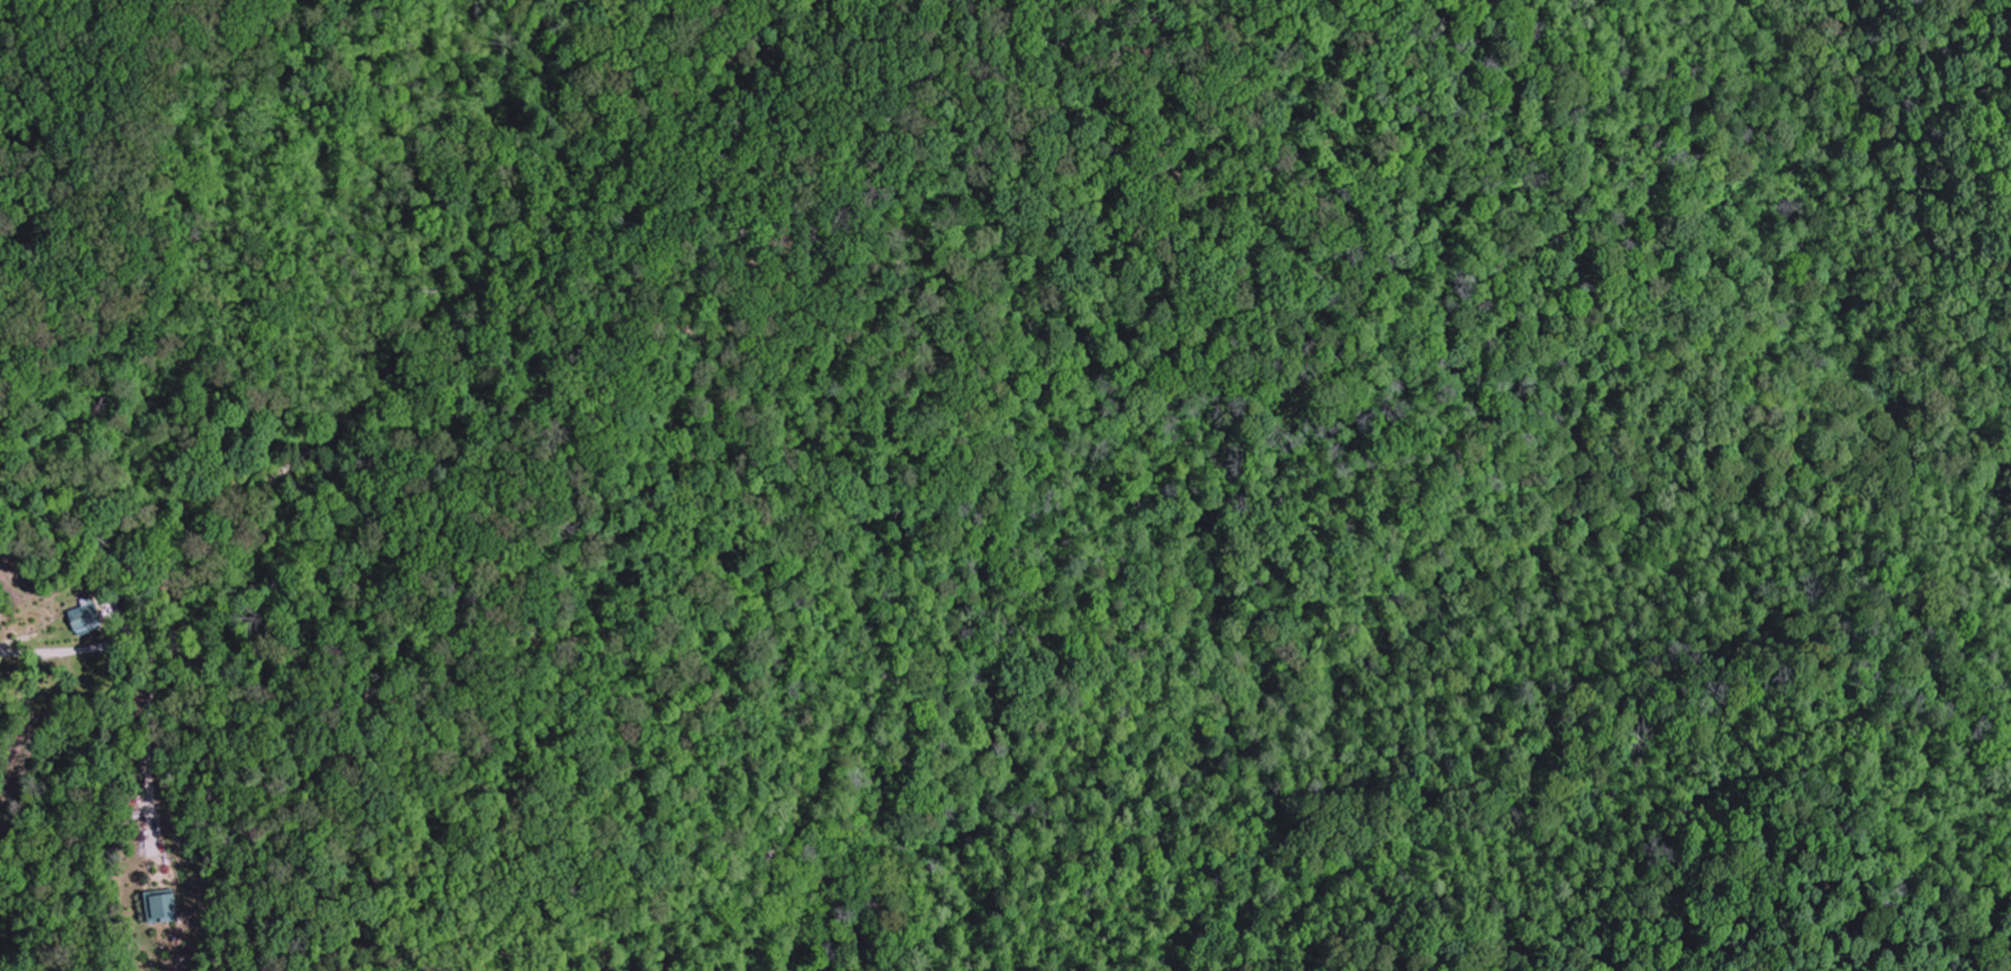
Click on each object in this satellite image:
road: (502, 507)
road: (146, 742)
building: (164, 905)

